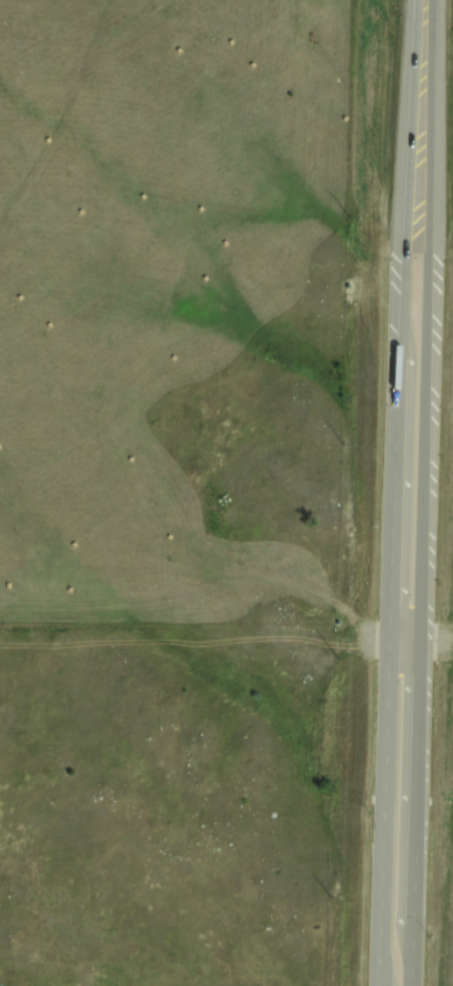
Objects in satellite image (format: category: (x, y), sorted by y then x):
road: (392, 492)
road: (425, 493)
road: (420, 645)

